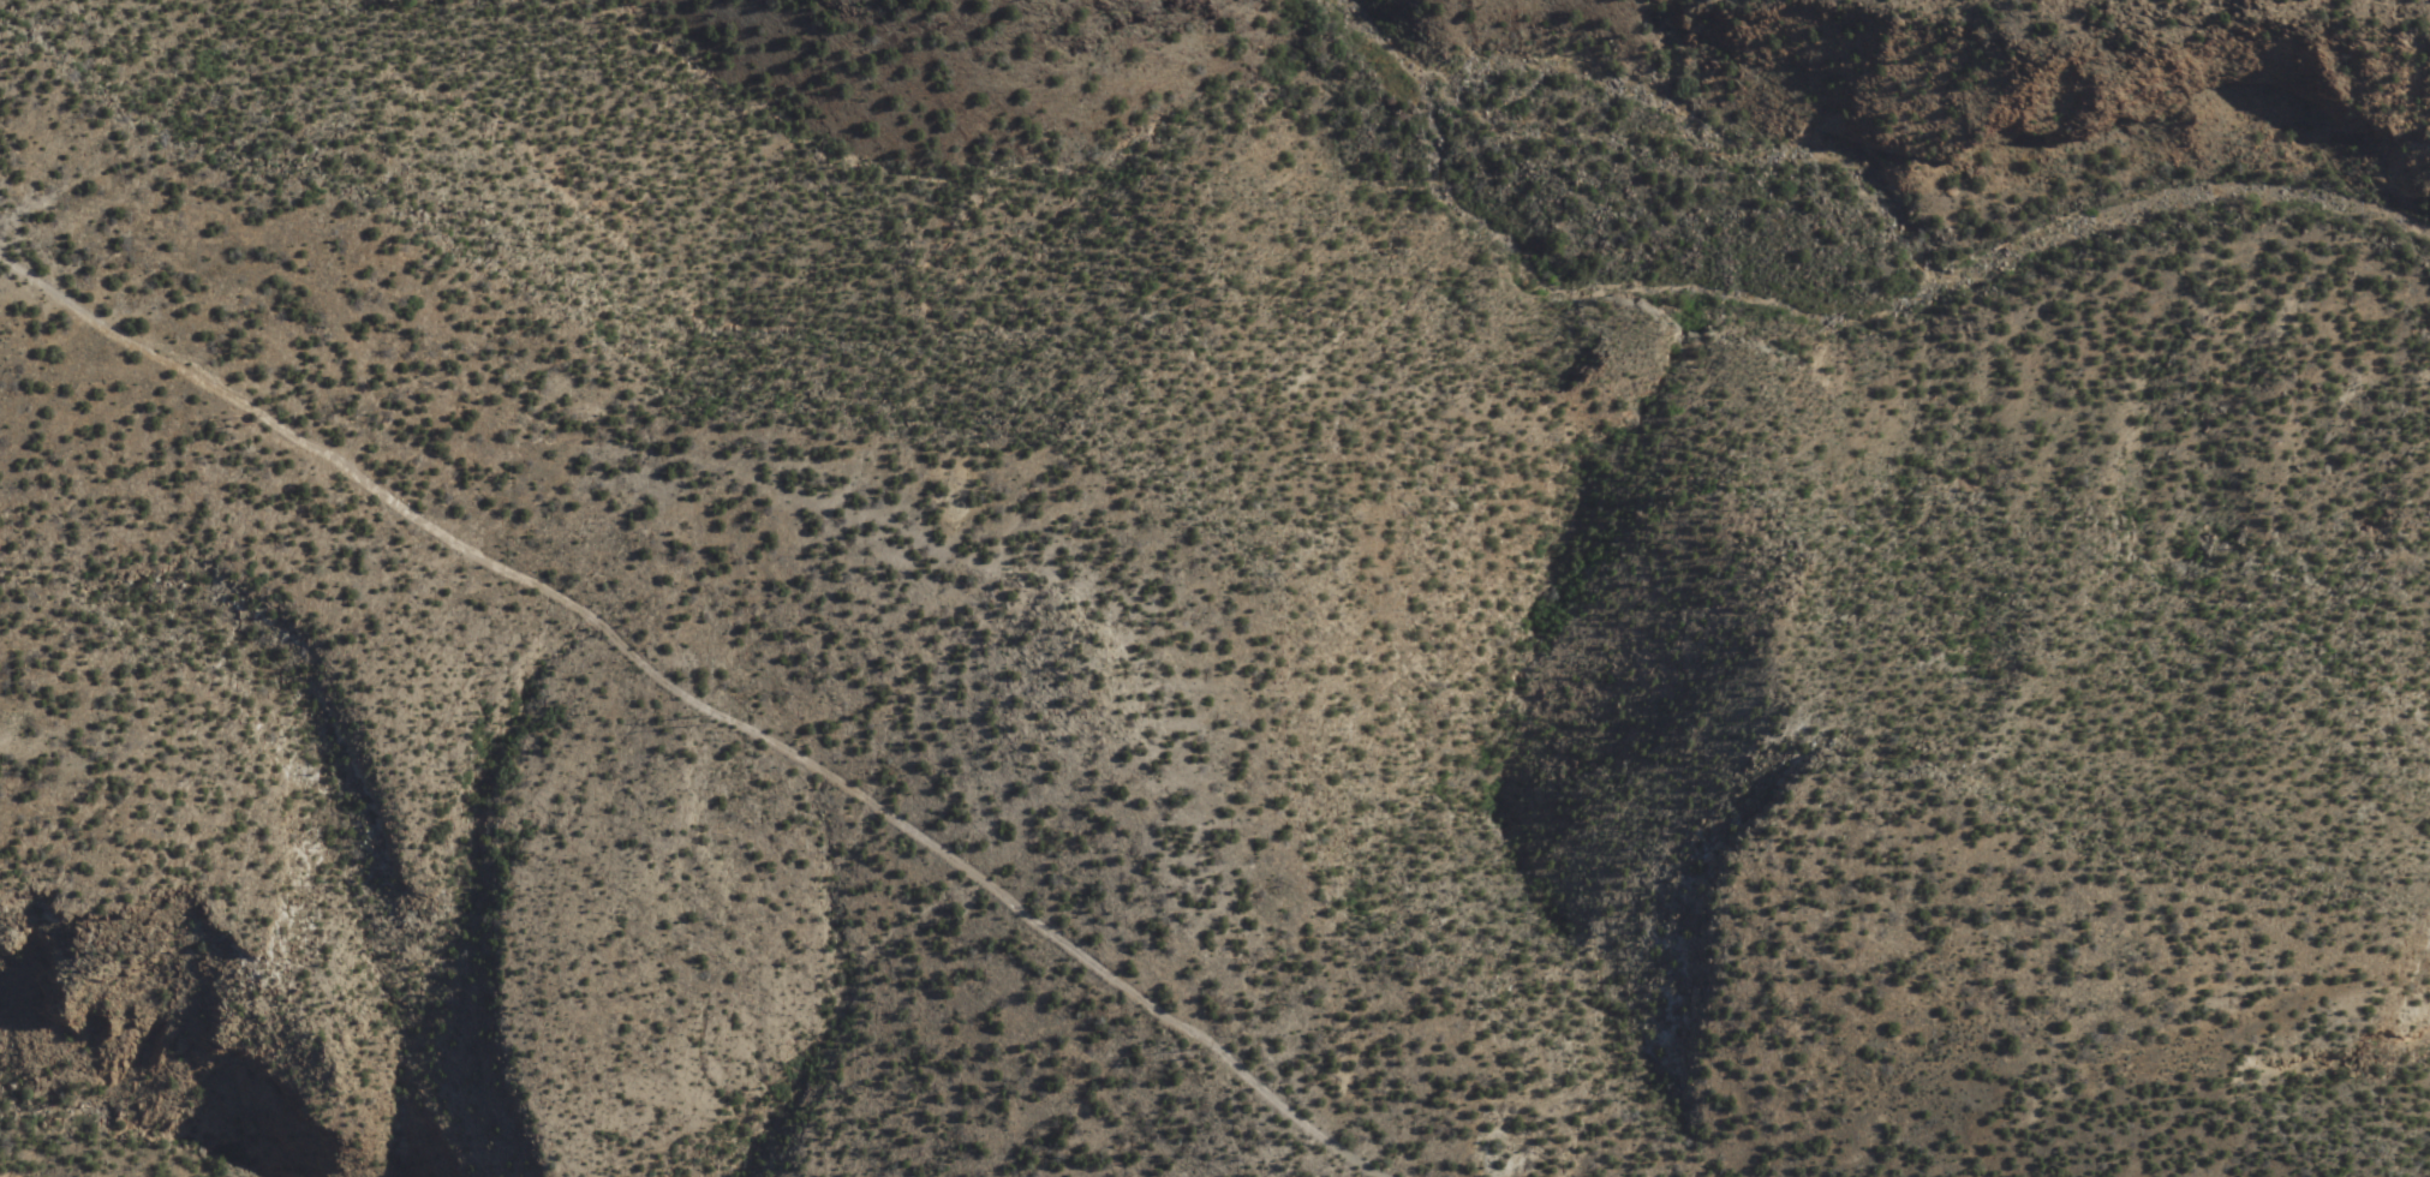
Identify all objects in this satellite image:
road: (1873, 150)
road: (694, 715)

